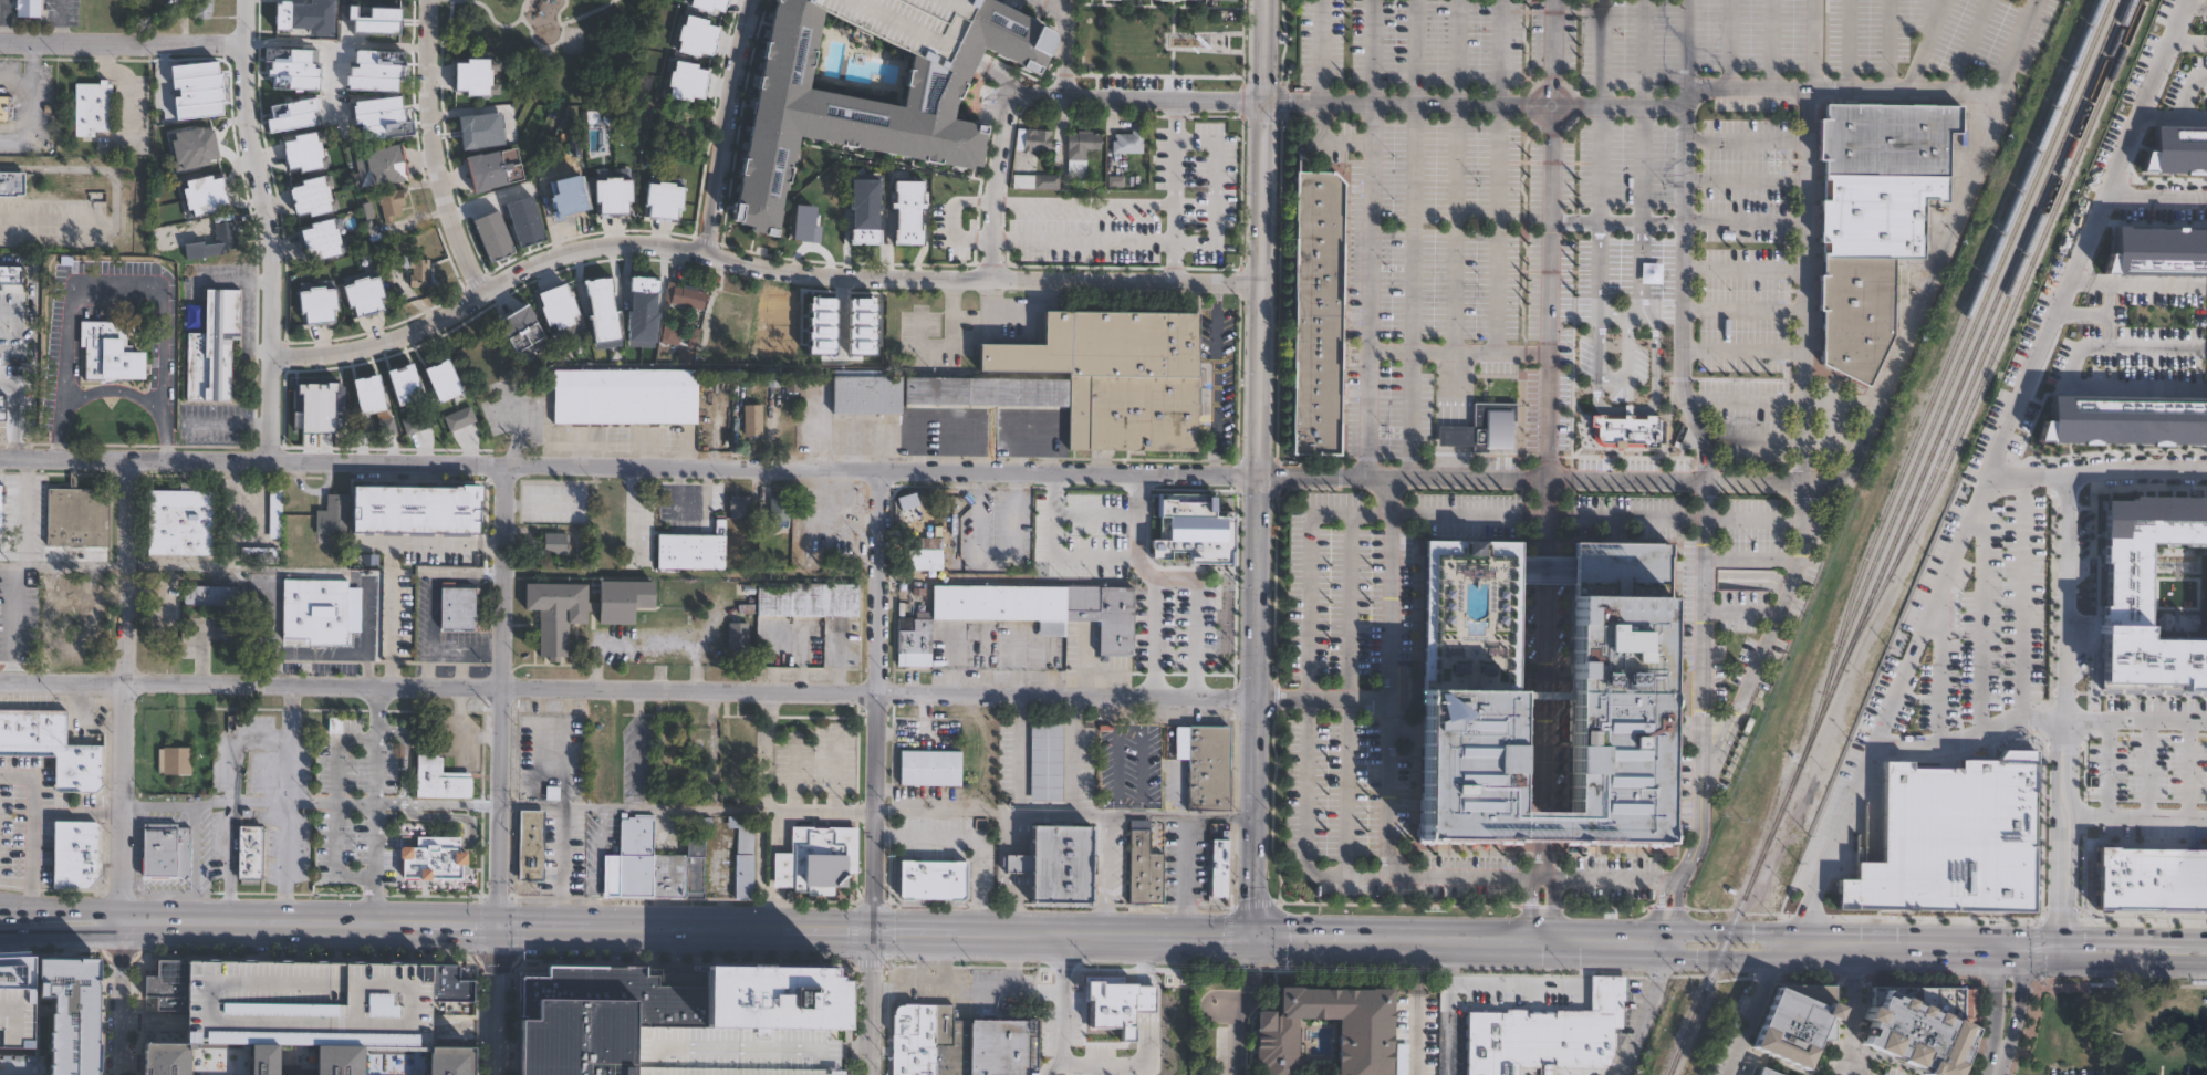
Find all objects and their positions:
road: (2195, 2)
building: (700, 4)
road: (1050, 6)
building: (29, 8)
building: (202, 8)
building: (292, 14)
road: (1929, 15)
road: (1, 19)
road: (56, 19)
building: (383, 20)
building: (904, 22)
parking garage: (904, 22)
building: (693, 35)
road: (124, 38)
road: (924, 39)
park: (532, 40)
road: (2187, 41)
park: (1167, 42)
road: (540, 43)
road: (1728, 43)
road: (1770, 43)
road: (1847, 44)
road: (1887, 44)
road: (1925, 44)
road: (1968, 45)
road: (1063, 48)
road: (1266, 50)
building: (288, 59)
building: (369, 69)
building: (473, 75)
building: (684, 80)
building: (200, 84)
road: (1320, 92)
road: (1136, 98)
building: (864, 103)
road: (1634, 103)
building: (4, 107)
building: (289, 109)
road: (1599, 109)
road: (1639, 111)
building: (98, 112)
road: (2172, 116)
building: (378, 117)
building: (683, 126)
road: (729, 127)
building: (481, 128)
road: (1747, 137)
building: (1884, 137)
building: (1033, 139)
building: (1123, 143)
building: (195, 147)
building: (1078, 147)
building: (2175, 148)
building: (304, 152)
road: (431, 152)
building: (377, 166)
road: (83, 168)
building: (496, 168)
road: (1497, 174)
road: (1455, 175)
building: (1044, 179)
road: (1746, 179)
road: (997, 182)
building: (11, 184)
building: (217, 189)
road: (1215, 190)
road: (1178, 191)
road: (1264, 192)
building: (610, 195)
building: (312, 196)
road: (2155, 196)
building: (662, 199)
building: (389, 202)
building: (564, 207)
road: (1087, 208)
building: (1874, 213)
building: (523, 220)
road: (1677, 222)
road: (53, 226)
road: (273, 229)
building: (226, 232)
building: (820, 232)
building: (861, 233)
building: (490, 234)
road: (1370, 237)
road: (1410, 238)
building: (317, 239)
road: (1085, 240)
road: (1945, 246)
building: (2155, 247)
road: (1745, 265)
road: (757, 268)
building: (415, 269)
road: (1547, 278)
road: (2161, 278)
road: (114, 283)
building: (644, 289)
building: (361, 291)
building: (689, 295)
road: (29, 298)
road: (2114, 300)
building: (315, 301)
building: (555, 305)
building: (730, 305)
road: (1743, 309)
building: (601, 312)
road: (1617, 312)
building: (0, 313)
building: (1314, 313)
building: (1854, 314)
building: (519, 328)
building: (669, 333)
road: (2146, 334)
building: (211, 346)
road: (1743, 347)
road: (1477, 349)
building: (106, 351)
building: (1090, 377)
road: (1215, 377)
railway: (1941, 378)
building: (440, 379)
building: (402, 384)
building: (791, 387)
road: (107, 390)
building: (863, 393)
building: (14, 394)
building: (366, 394)
building: (625, 396)
road: (1784, 398)
building: (316, 401)
road: (1803, 404)
road: (1635, 407)
road: (10, 414)
building: (2126, 417)
building: (753, 420)
building: (1479, 426)
building: (1624, 430)
road: (164, 440)
road: (1784, 440)
road: (54, 441)
road: (917, 468)
road: (1986, 470)
road: (2145, 471)
road: (2033, 476)
road: (676, 490)
road: (1260, 503)
building: (741, 508)
building: (414, 509)
building: (781, 509)
road: (20, 511)
road: (1143, 511)
building: (273, 513)
road: (634, 513)
road: (1595, 514)
building: (79, 516)
building: (329, 516)
building: (181, 523)
building: (0, 524)
building: (1100, 534)
railway: (1899, 537)
building: (555, 543)
building: (694, 547)
building: (935, 549)
building: (259, 553)
road: (1752, 559)
road: (389, 563)
road: (1148, 563)
road: (8, 564)
road: (73, 566)
building: (1542, 570)
road: (1544, 570)
building: (168, 581)
road: (1706, 584)
building: (2206, 589)
parking garage: (2206, 589)
road: (2067, 594)
building: (2141, 595)
road: (2020, 598)
building: (257, 599)
building: (804, 599)
building: (90, 603)
road: (1979, 605)
building: (459, 607)
building: (579, 608)
building: (1045, 608)
building: (319, 609)
road: (1741, 609)
building: (232, 615)
building: (160, 620)
road: (9, 623)
building: (261, 625)
parking lot: (1984, 627)
building: (241, 633)
building: (406, 633)
building: (85, 634)
building: (737, 636)
road: (1155, 636)
building: (915, 641)
road: (340, 655)
road: (1937, 660)
road: (128, 690)
road: (694, 691)
road: (1347, 692)
road: (498, 697)
road: (1542, 699)
road: (876, 700)
road: (2135, 718)
road: (2064, 723)
road: (1126, 726)
road: (1966, 734)
building: (600, 738)
building: (739, 741)
building: (53, 748)
road: (712, 750)
building: (1466, 751)
road: (2070, 752)
road: (403, 755)
road: (1017, 755)
road: (1073, 756)
building: (173, 760)
building: (1044, 761)
parking lot: (1126, 765)
road: (2105, 766)
building: (1207, 768)
road: (2145, 768)
building: (928, 769)
road: (2184, 769)
parking lot: (2144, 770)
building: (439, 780)
road: (2052, 783)
building: (727, 794)
road: (1257, 801)
road: (312, 803)
road: (229, 804)
road: (287, 805)
road: (374, 806)
road: (624, 806)
road: (699, 807)
road: (762, 807)
road: (335, 808)
road: (562, 808)
road: (79, 814)
road: (1065, 814)
road: (2138, 815)
road: (454, 818)
road: (31, 829)
road: (1540, 829)
road: (780, 832)
road: (969, 839)
building: (1946, 841)
road: (394, 842)
road: (435, 843)
building: (528, 845)
building: (165, 850)
road: (2070, 852)
building: (74, 853)
building: (251, 853)
building: (742, 856)
building: (430, 859)
building: (816, 860)
building: (657, 862)
building: (1060, 863)
road: (594, 867)
building: (1216, 868)
road: (779, 870)
building: (1145, 870)
road: (1104, 875)
road: (1328, 875)
road: (1181, 876)
building: (2149, 876)
building: (929, 879)
road: (15, 880)
road: (2051, 884)
road: (1539, 891)
road: (15, 905)
road: (1253, 908)
road: (779, 909)
road: (1670, 909)
road: (63, 910)
traffic signals: (498, 928)
road: (688, 930)
traffic signals: (873, 932)
road: (79, 933)
road: (17, 936)
traffic signals: (1252, 937)
road: (2061, 937)
road: (1729, 941)
traffic signals: (1997, 947)
traffic signals: (2020, 947)
traffic signals: (2061, 948)
road: (1146, 960)
road: (940, 962)
road: (1012, 962)
road: (498, 968)
road: (2146, 983)
building: (445, 984)
building: (164, 987)
road: (1538, 987)
road: (968, 992)
road: (125, 999)
road: (1145, 1000)
building: (770, 1001)
road: (872, 1003)
building: (14, 1004)
building: (305, 1005)
parking garage: (305, 1005)
road: (1243, 1005)
road: (1062, 1006)
road: (1417, 1006)
road: (1447, 1006)
road: (1651, 1008)
road: (2045, 1008)
road: (1753, 1010)
road: (1850, 1010)
building: (598, 1014)
building: (61, 1019)
road: (155, 1020)
road: (461, 1025)
building: (1791, 1027)
building: (1917, 1027)
park: (2112, 1027)
building: (1543, 1034)
building: (1117, 1037)
road: (498, 1041)
building: (960, 1042)
building: (1363, 1047)
road: (853, 1050)
building: (731, 1054)
parking garage: (731, 1054)
building: (162, 1058)
building: (1399, 1058)
building: (260, 1061)
building: (333, 1062)
building: (444, 1062)
road: (1123, 1065)
road: (2002, 1066)
parking lot: (2078, 1071)
building: (1766, 1072)
road: (1855, 1073)

